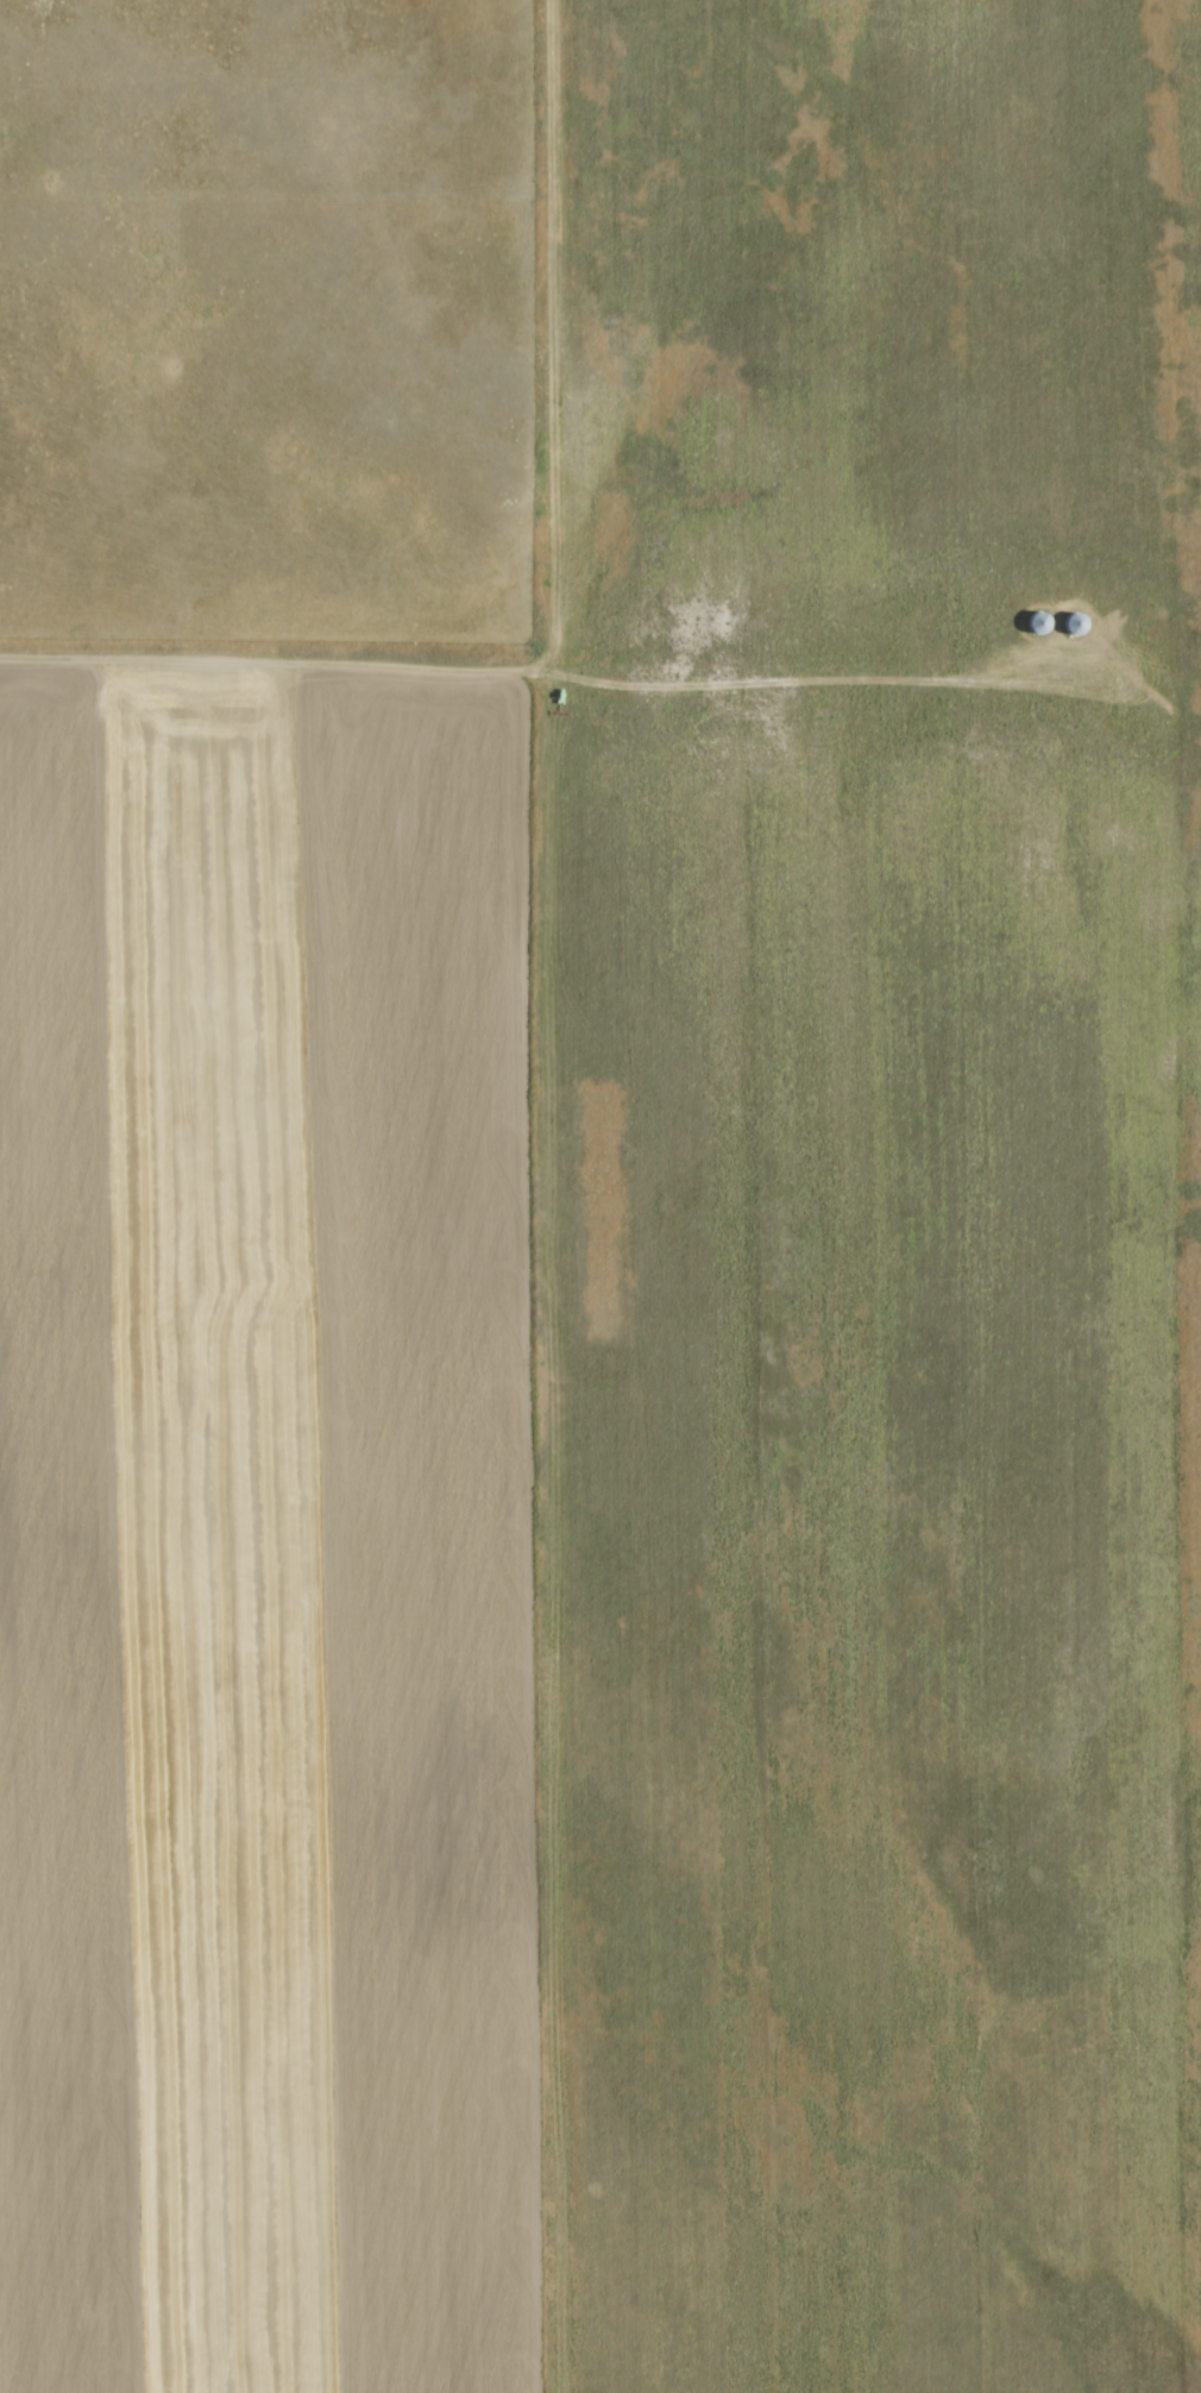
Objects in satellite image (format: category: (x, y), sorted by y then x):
building: (1039, 622)
building: (1075, 622)

